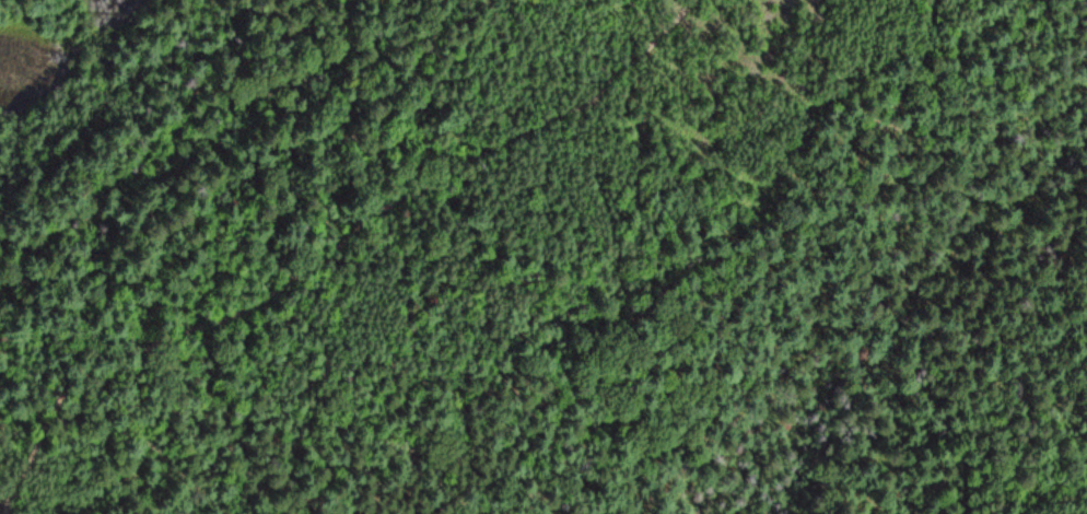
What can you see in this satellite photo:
road: (112, 177)
road: (807, 210)
road: (371, 215)
road: (25, 466)
road: (3, 495)
road: (19, 506)

